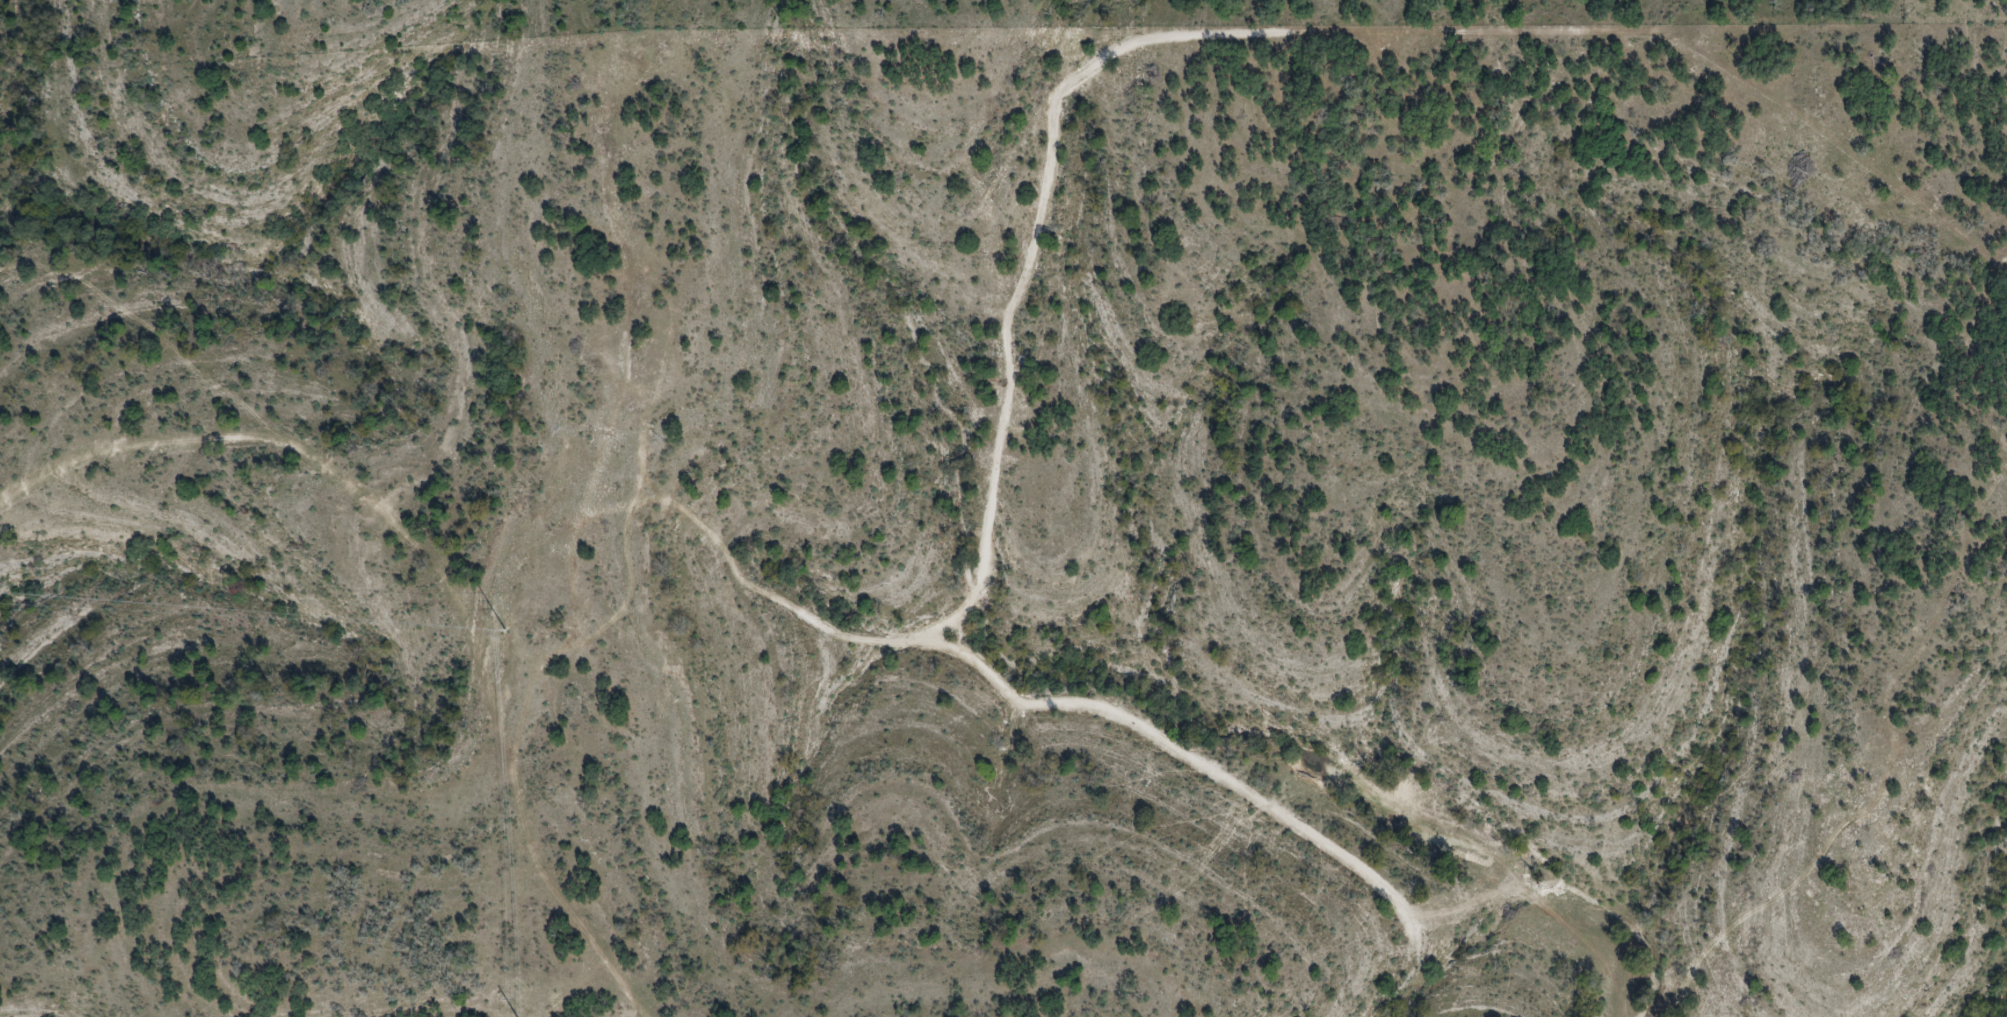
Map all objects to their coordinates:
power tower: (510, 630)

